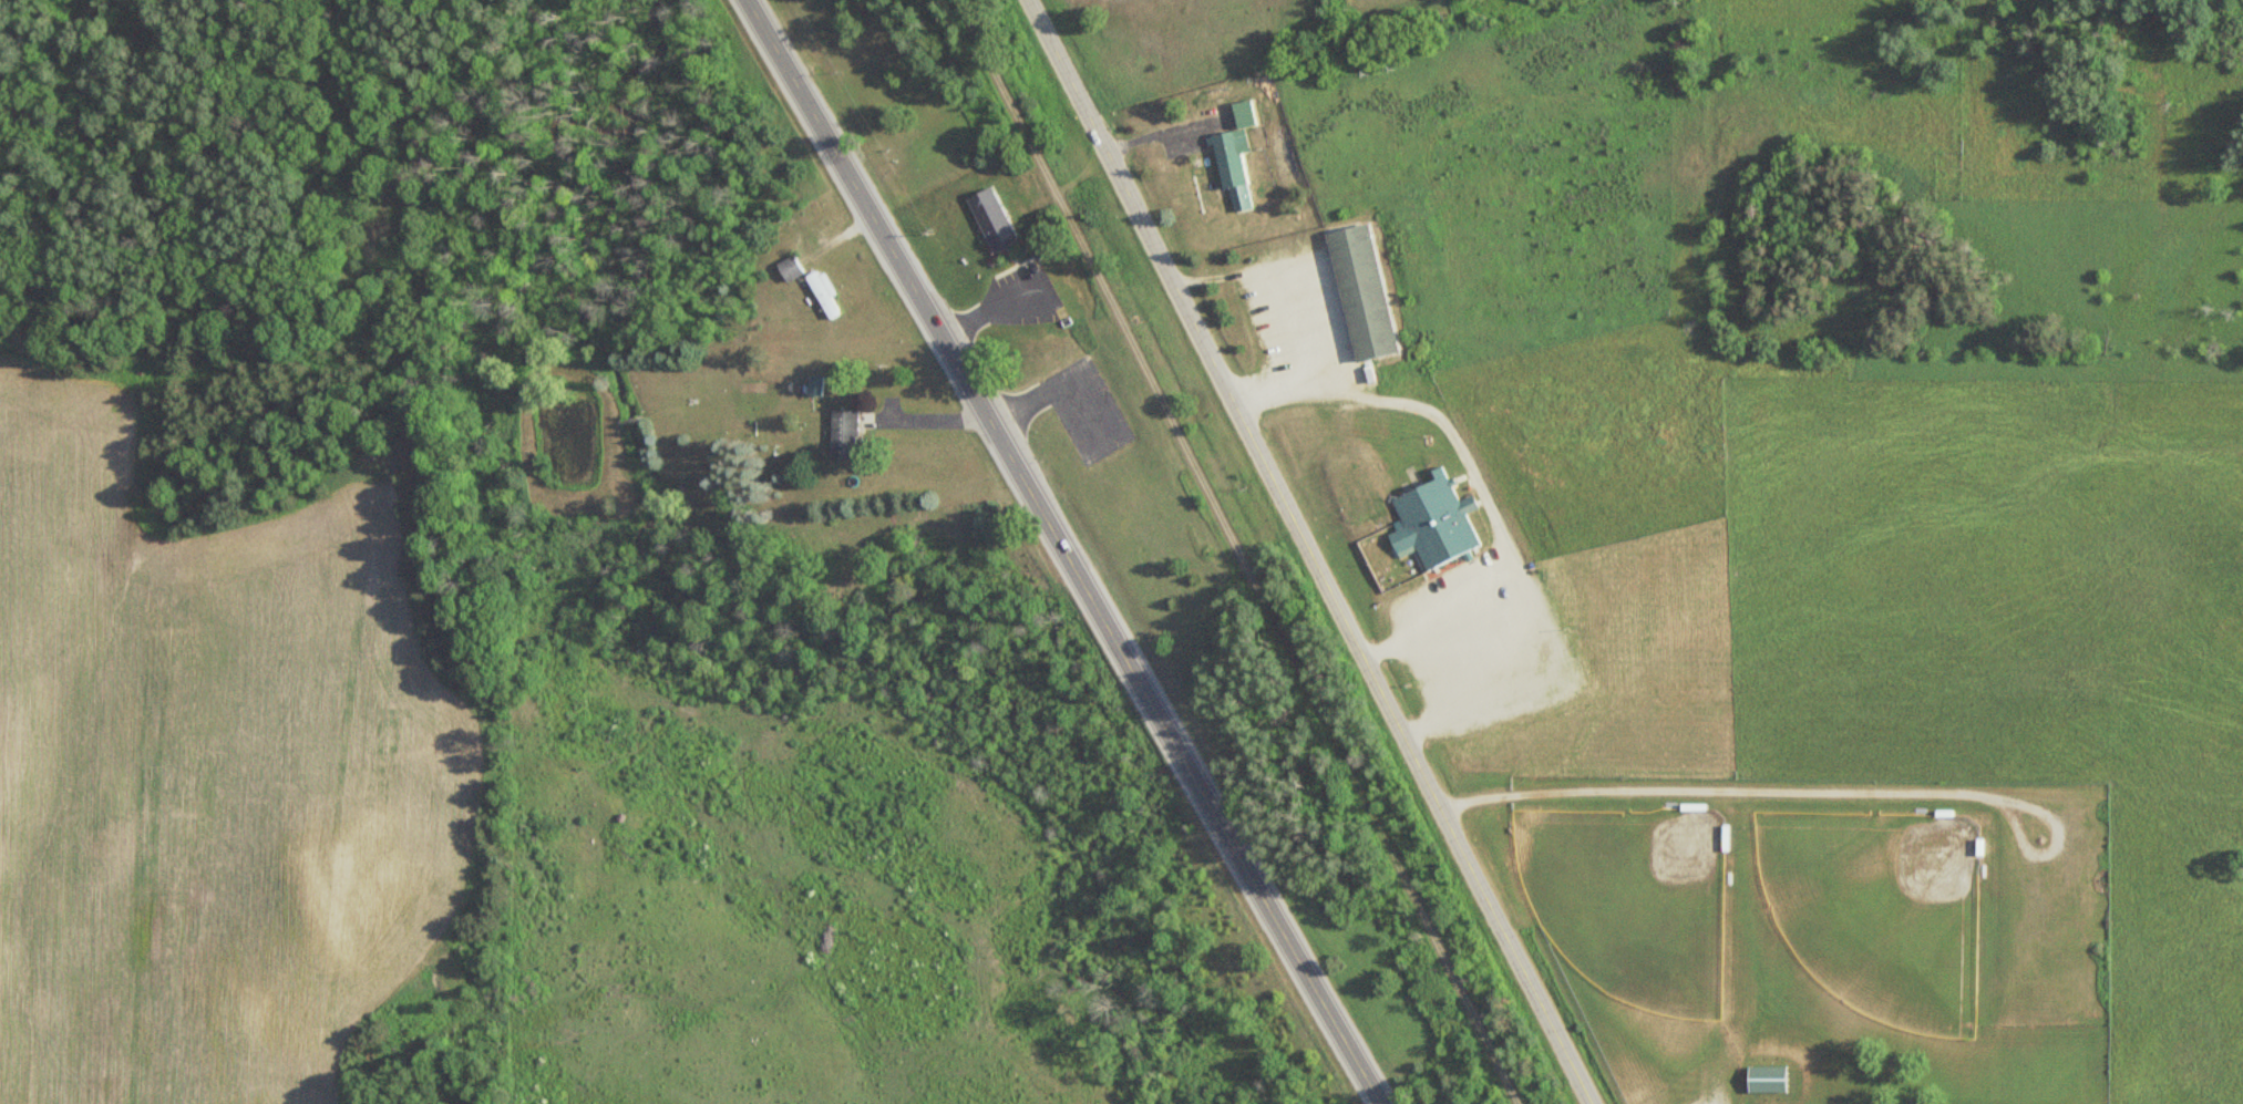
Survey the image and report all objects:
building: (1229, 171)
building: (989, 219)
building: (788, 268)
road: (1283, 279)
building: (1358, 292)
building: (821, 293)
building: (842, 433)
road: (1470, 473)
building: (1430, 518)
road: (1238, 551)
road: (1310, 551)
road: (1064, 554)
park: (1630, 898)
park: (1876, 907)
building: (1762, 1079)
road: (1706, 1084)

